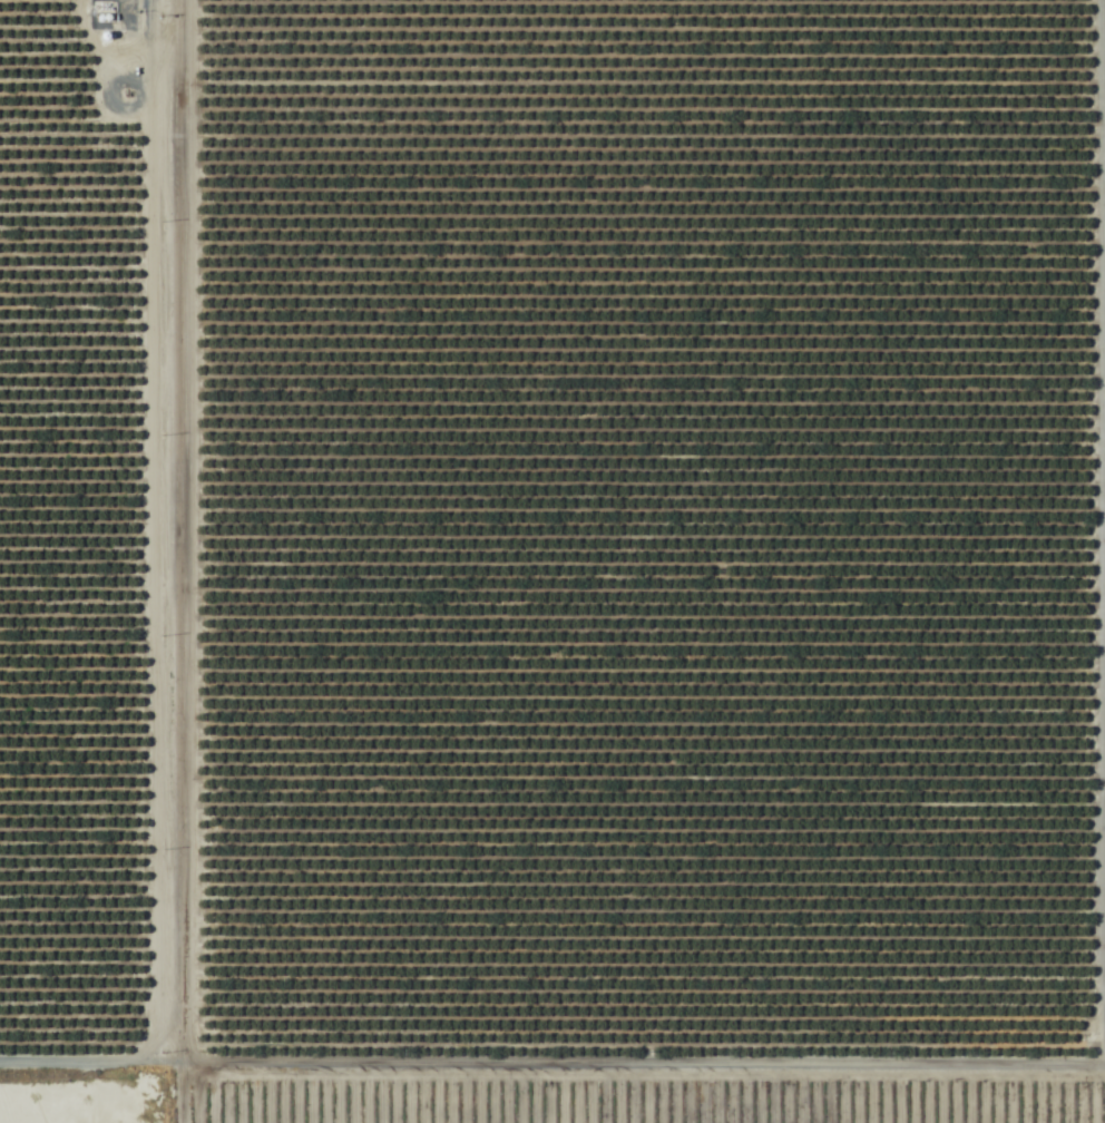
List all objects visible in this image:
road: (1099, 535)
crop: (552, 539)
road: (169, 561)
road: (85, 1068)
road: (637, 1068)

